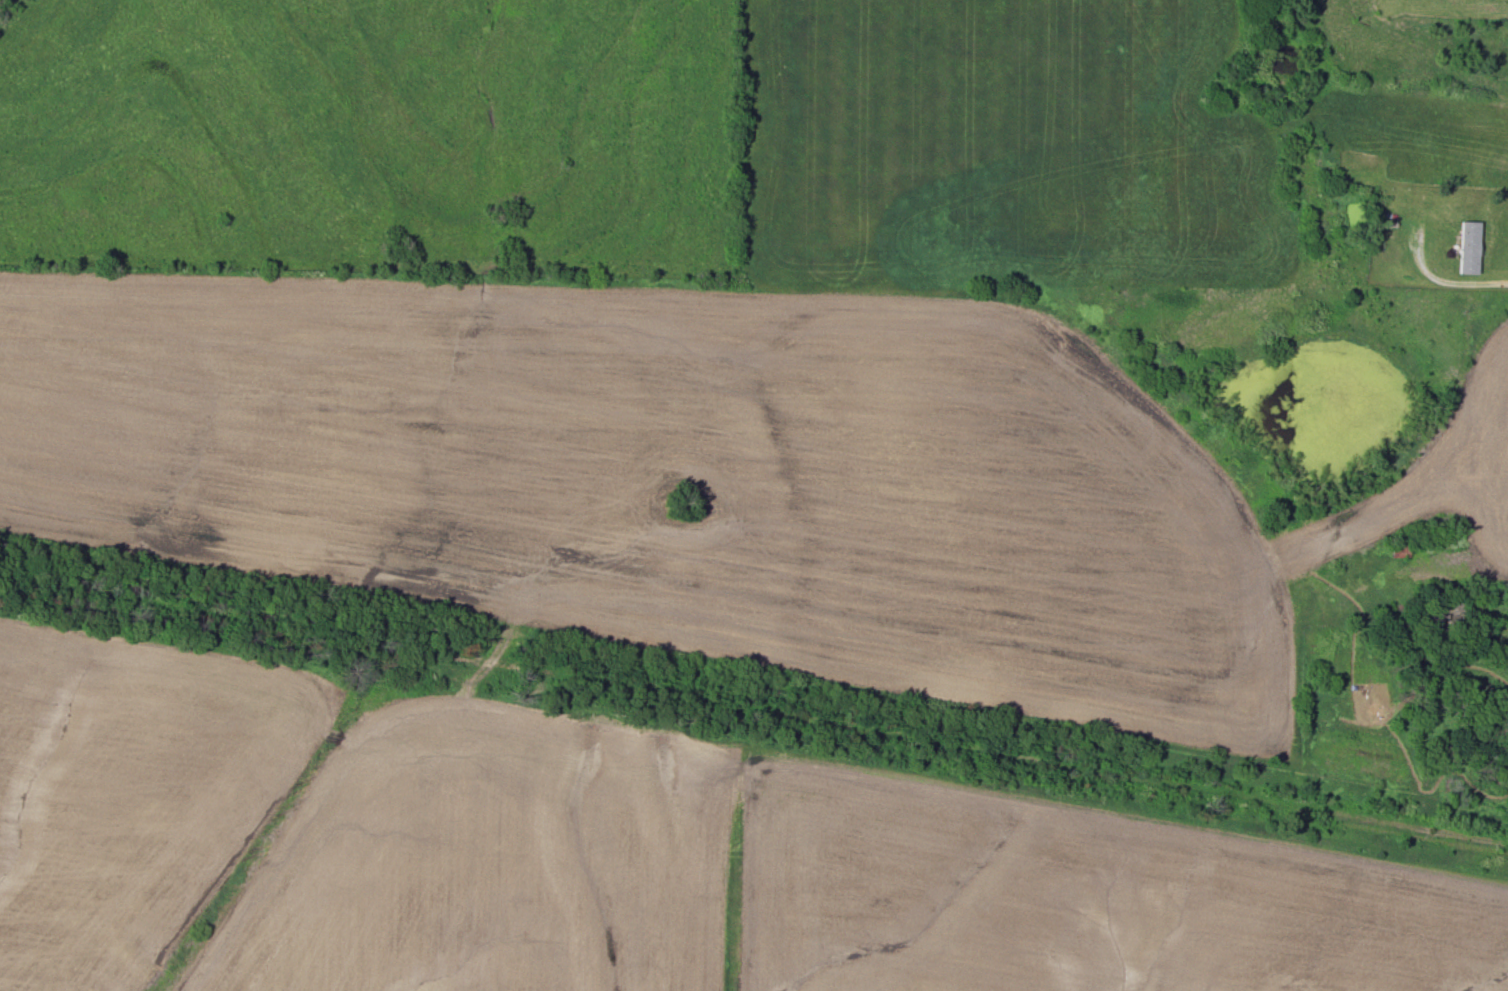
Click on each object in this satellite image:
building: (1470, 249)
road: (1453, 288)
crop: (670, 478)
crop: (1440, 485)
building: (1450, 614)
crop: (129, 791)
crop: (488, 863)
crop: (1077, 898)

